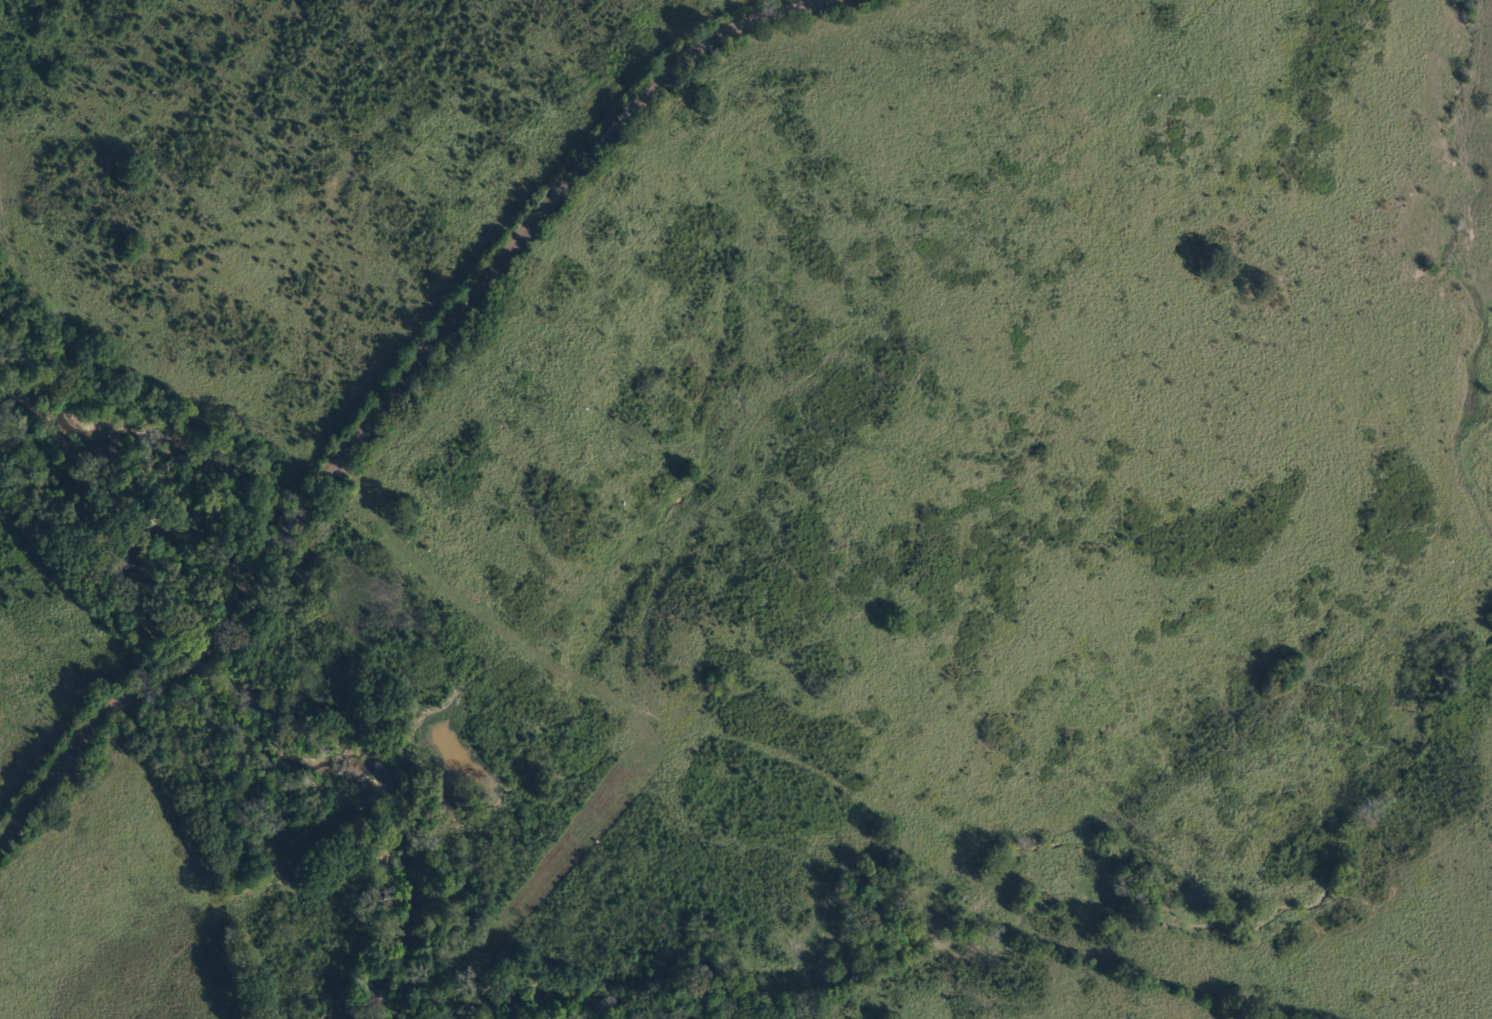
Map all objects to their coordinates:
road: (385, 387)

